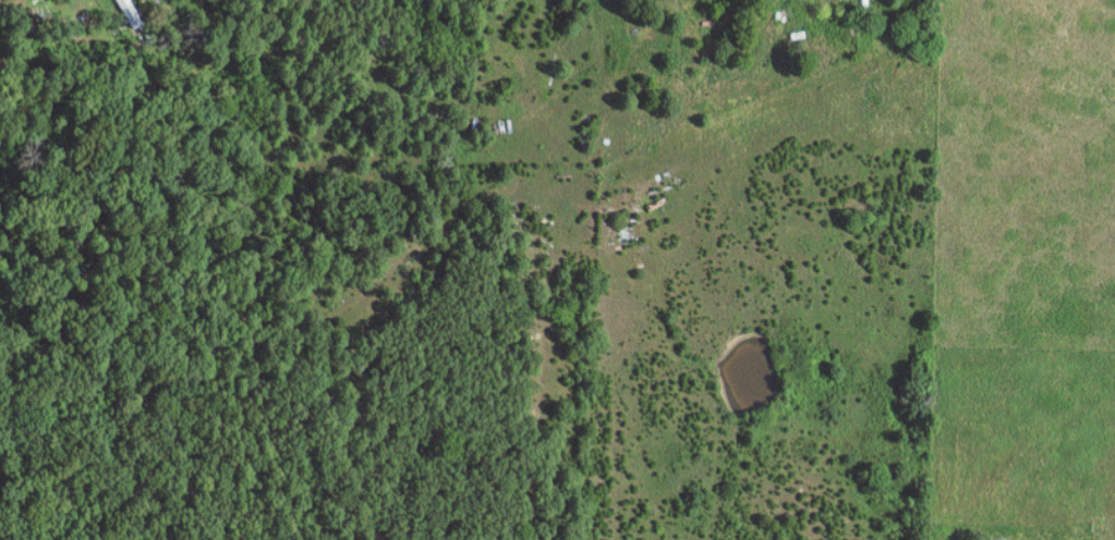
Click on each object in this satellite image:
building: (130, 13)

